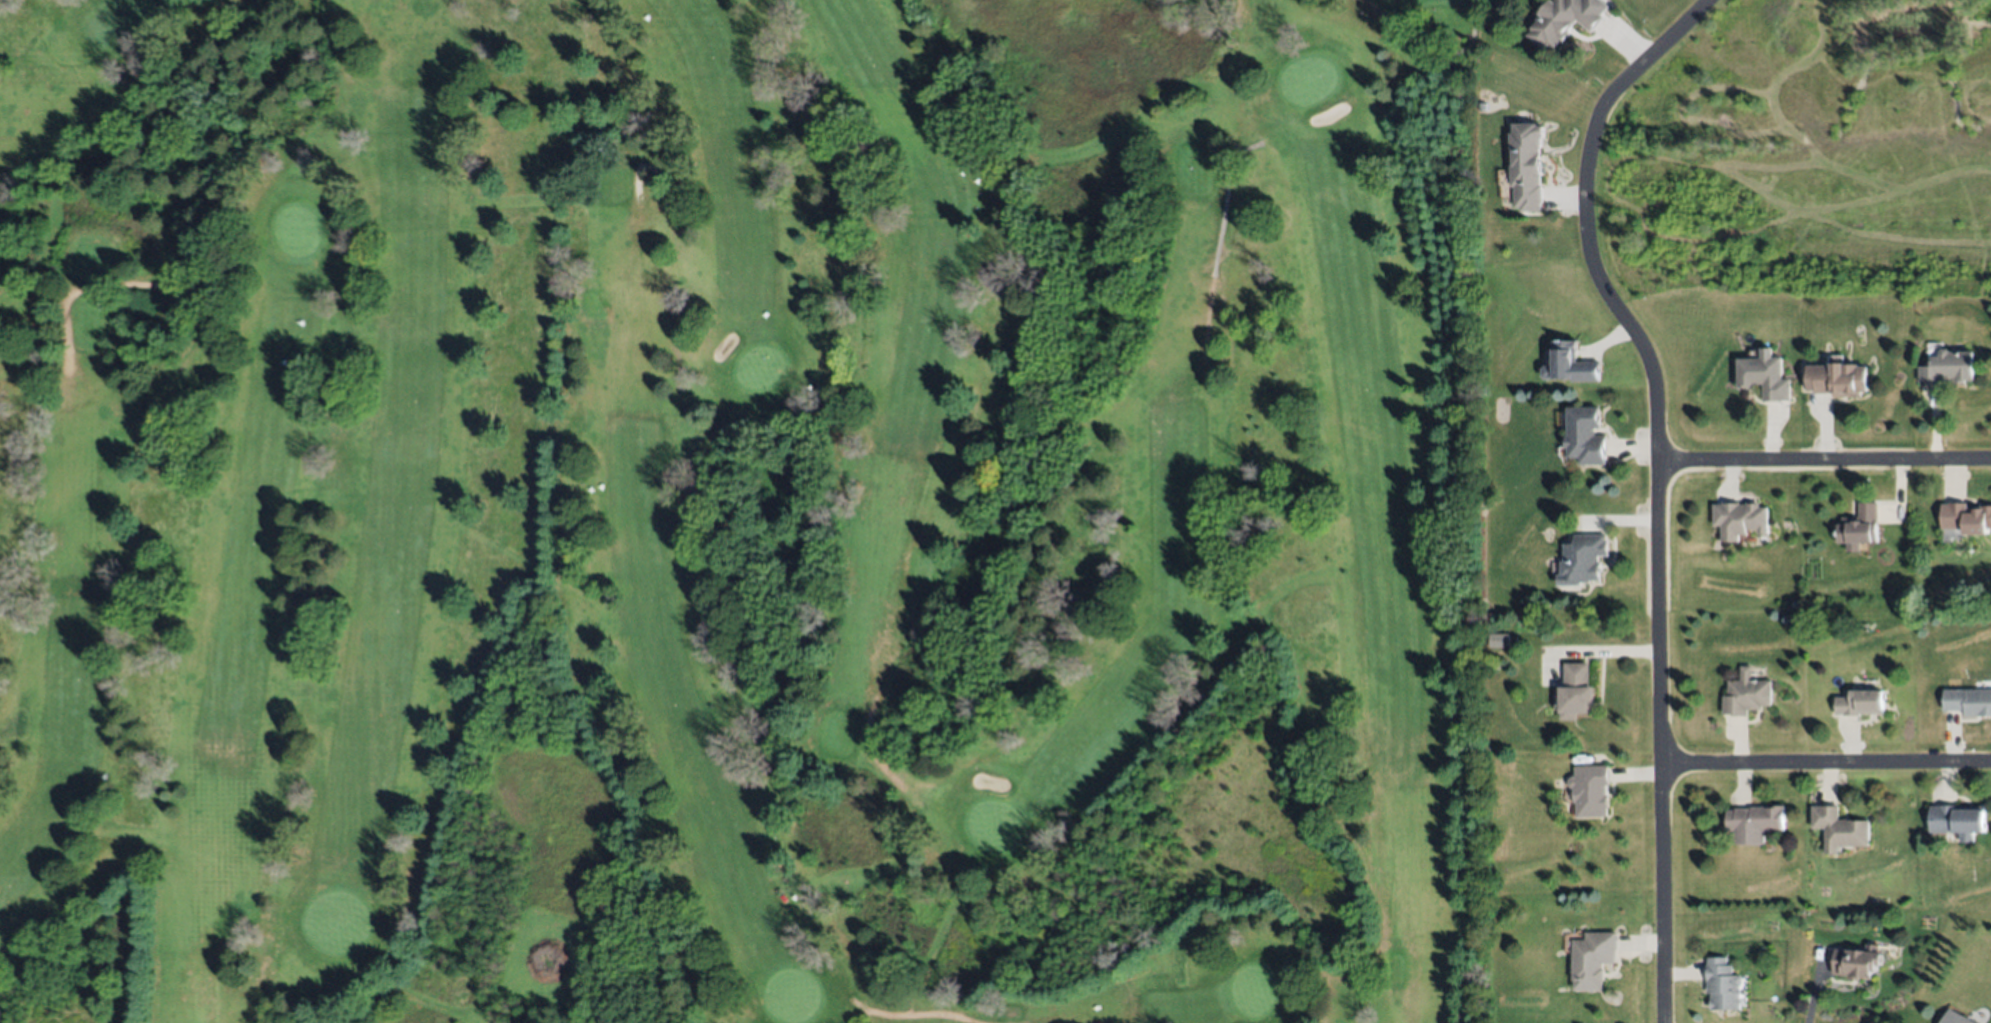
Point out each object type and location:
building: (1565, 19)
road: (1431, 55)
road: (643, 164)
building: (1526, 166)
road: (1214, 246)
road: (119, 285)
building: (1571, 363)
building: (1947, 367)
building: (1765, 376)
building: (1838, 379)
building: (1585, 435)
road: (1824, 457)
road: (1657, 479)
park: (736, 512)
building: (1740, 518)
building: (1966, 518)
building: (1859, 527)
building: (1582, 559)
road: (1595, 652)
building: (1577, 691)
building: (1745, 694)
building: (1968, 702)
building: (1860, 703)
road: (868, 750)
road: (1826, 762)
building: (1590, 790)
building: (1958, 821)
building: (1754, 823)
building: (1839, 828)
road: (1095, 916)
building: (1592, 959)
building: (1857, 961)
building: (1723, 984)
road: (910, 1016)
building: (1955, 1017)

